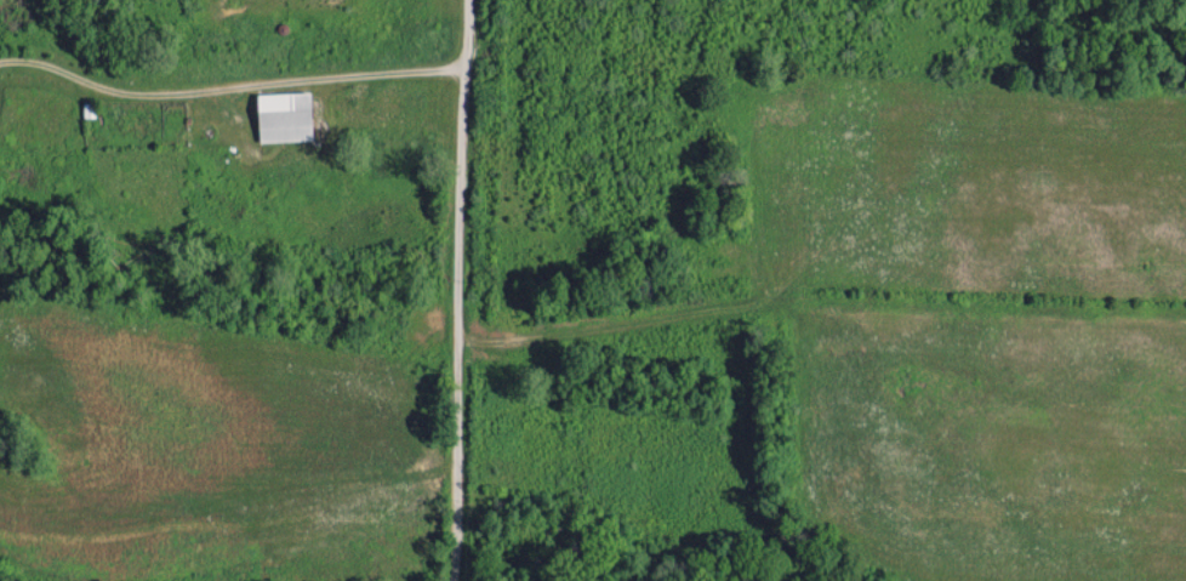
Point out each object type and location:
building: (283, 116)
road: (463, 290)

